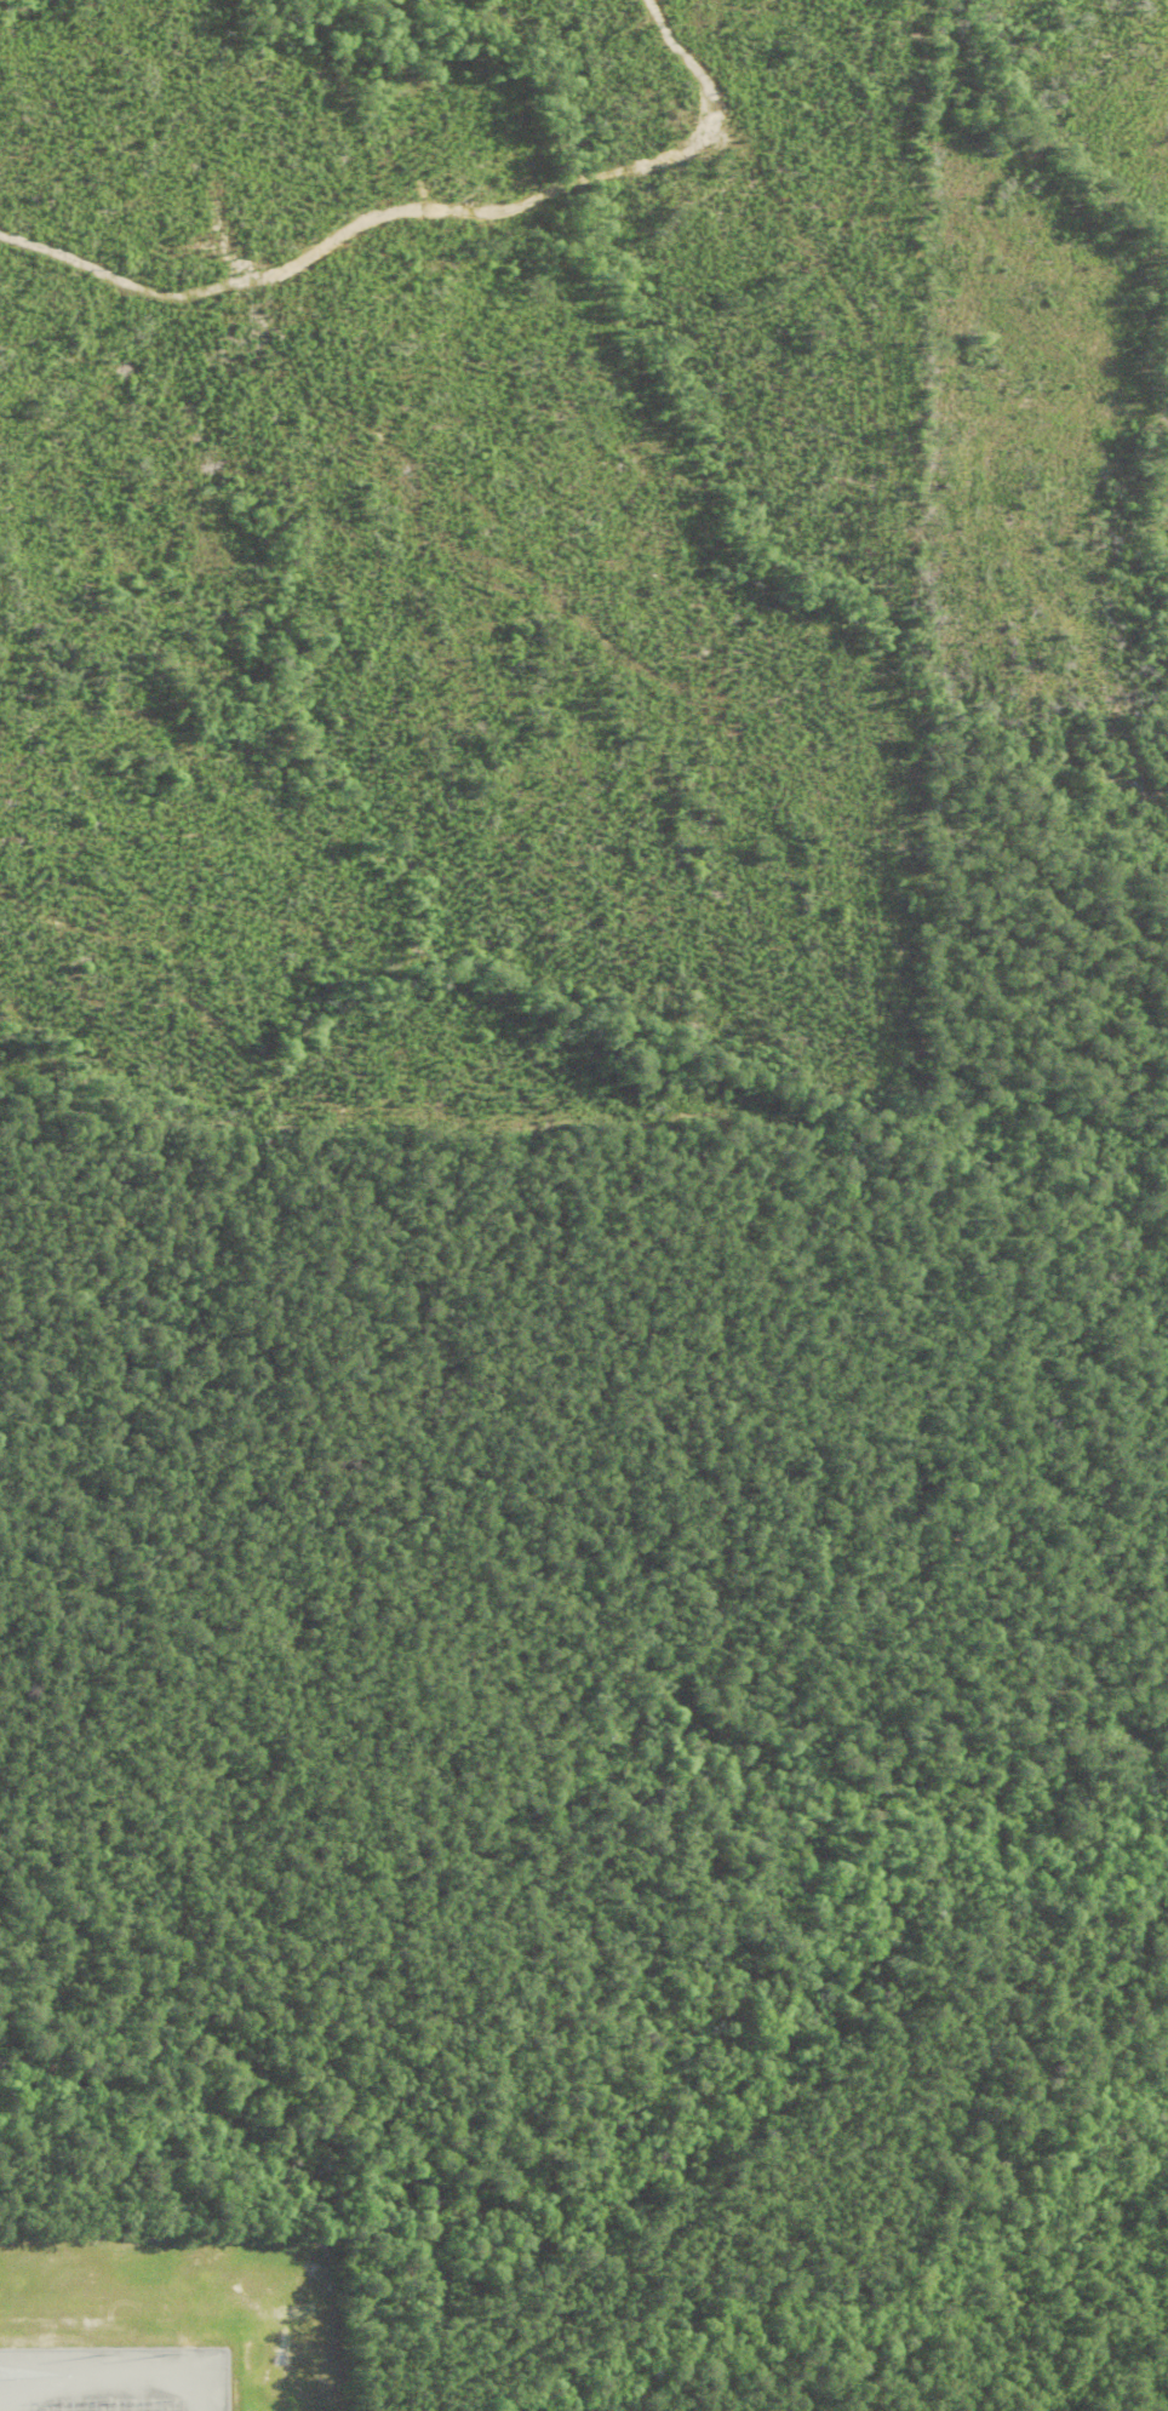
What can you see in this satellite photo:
power substation: (114, 2378)

